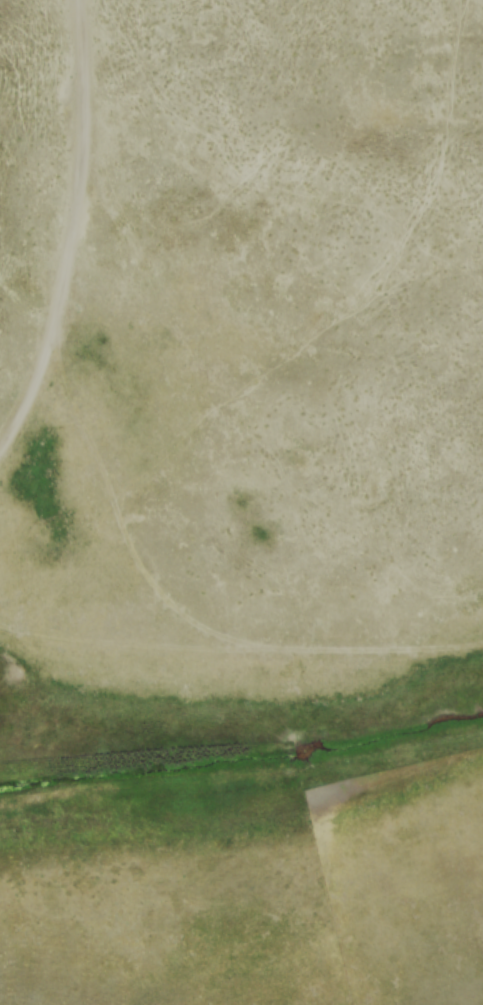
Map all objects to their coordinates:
road: (69, 229)

